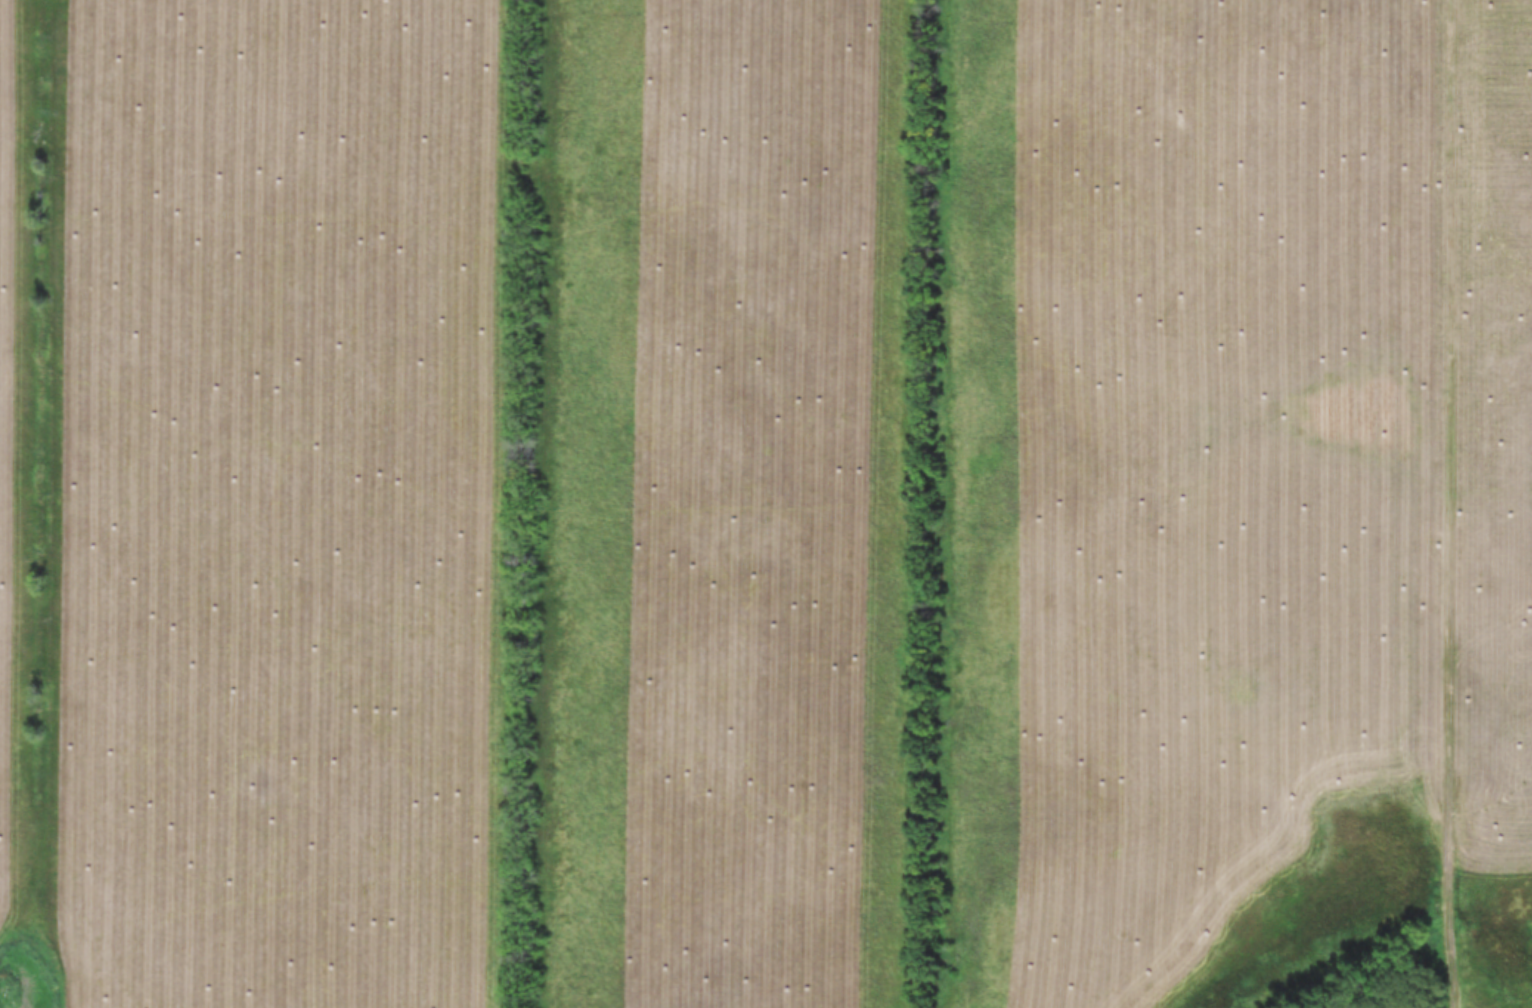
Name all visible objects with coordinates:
road: (1439, 506)

